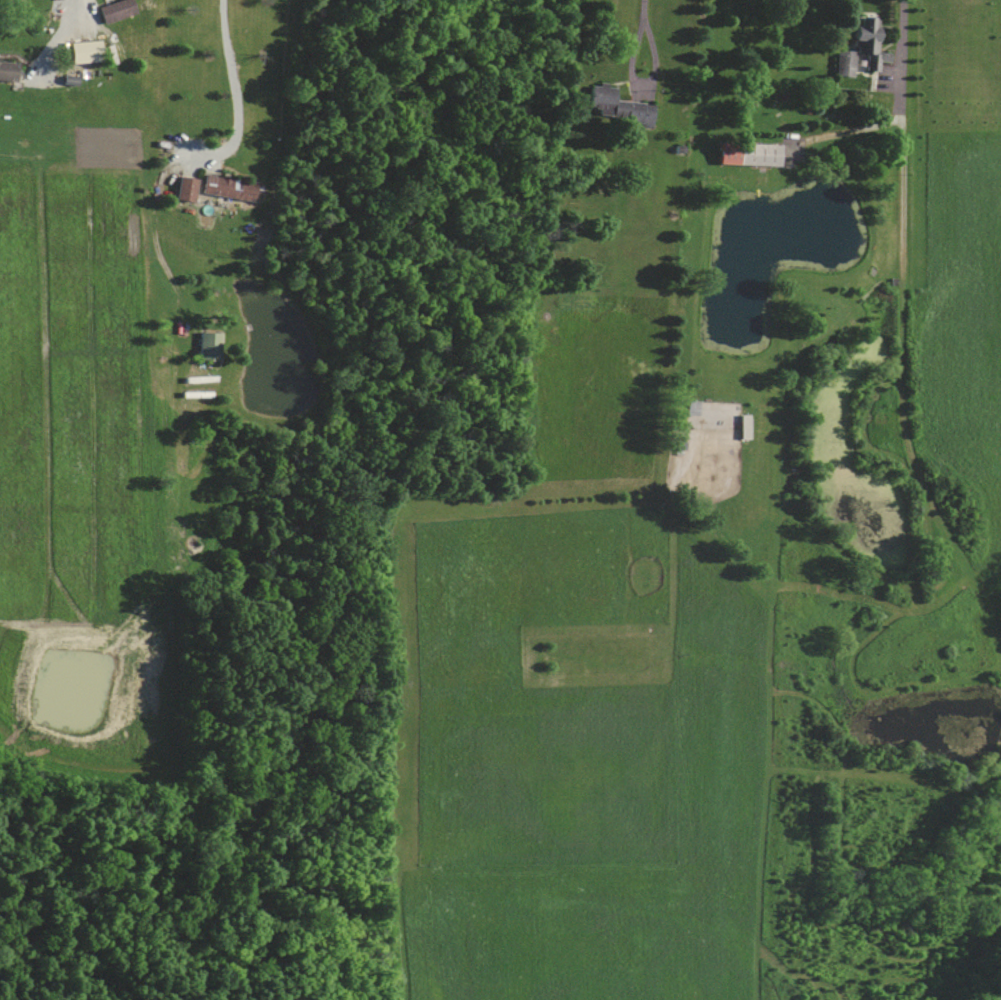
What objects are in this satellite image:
building: (116, 9)
road: (642, 11)
road: (56, 39)
road: (901, 40)
building: (862, 47)
building: (85, 49)
building: (8, 69)
road: (641, 86)
road: (234, 95)
building: (618, 106)
building: (749, 152)
building: (229, 186)

